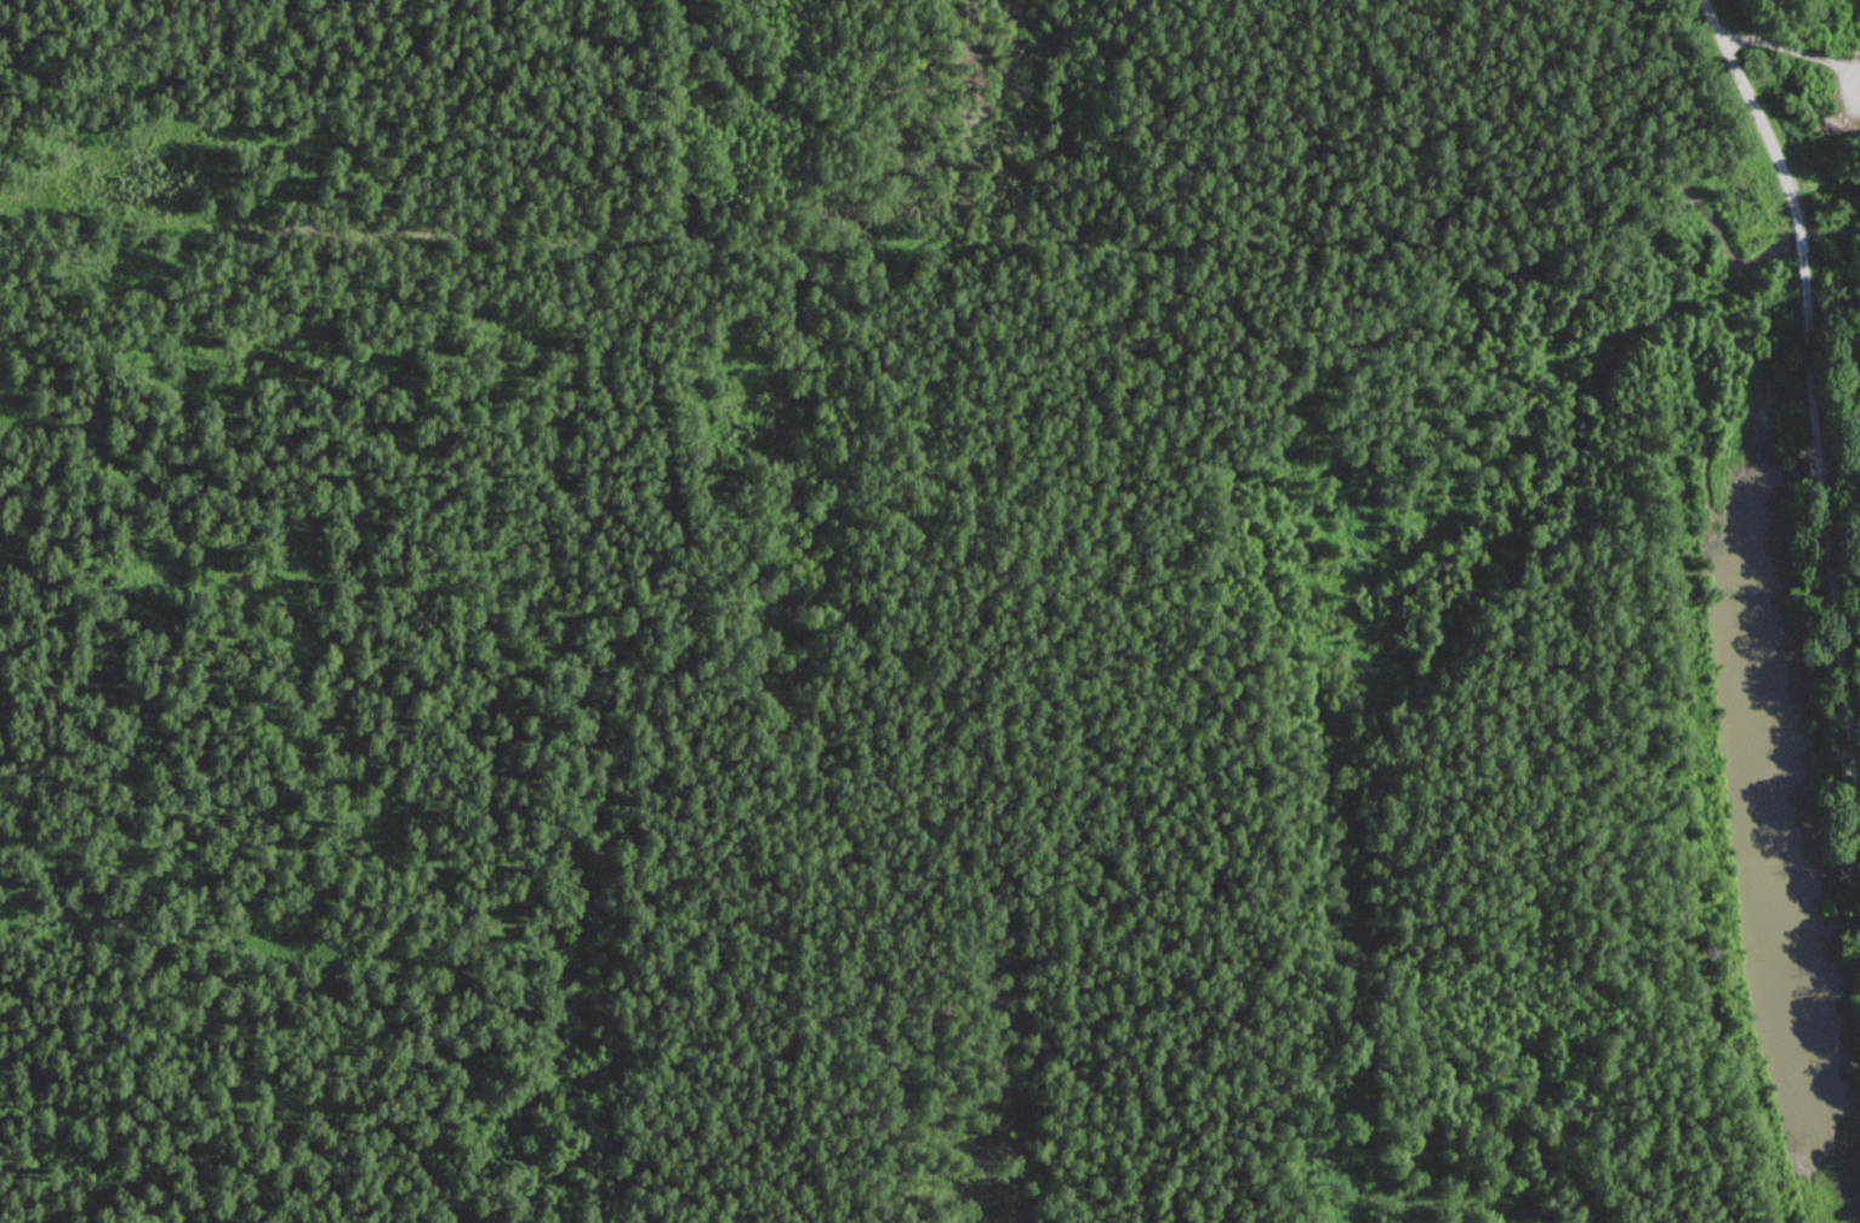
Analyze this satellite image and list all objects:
road: (1780, 55)
road: (1816, 407)

